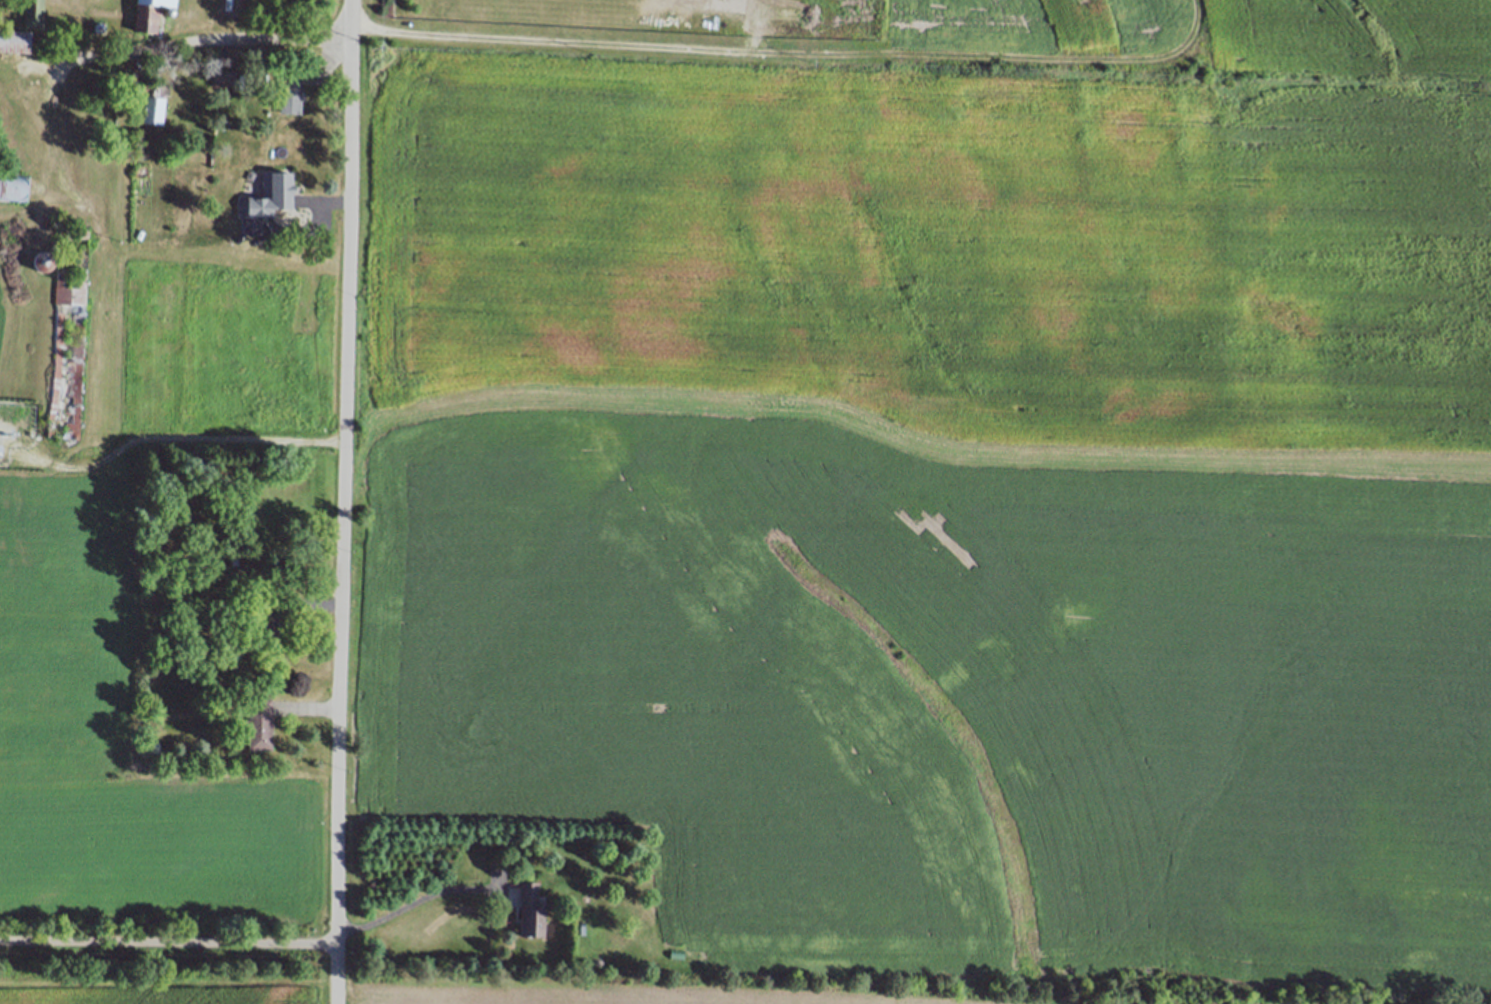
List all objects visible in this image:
building: (32, 13)
building: (148, 14)
road: (532, 39)
building: (15, 42)
road: (146, 51)
building: (222, 78)
building: (289, 93)
building: (147, 96)
building: (12, 187)
building: (272, 196)
building: (41, 264)
building: (72, 292)
road: (344, 502)
building: (234, 559)
building: (266, 618)
building: (258, 723)
building: (152, 747)
road: (413, 901)
building: (529, 911)
road: (169, 942)

